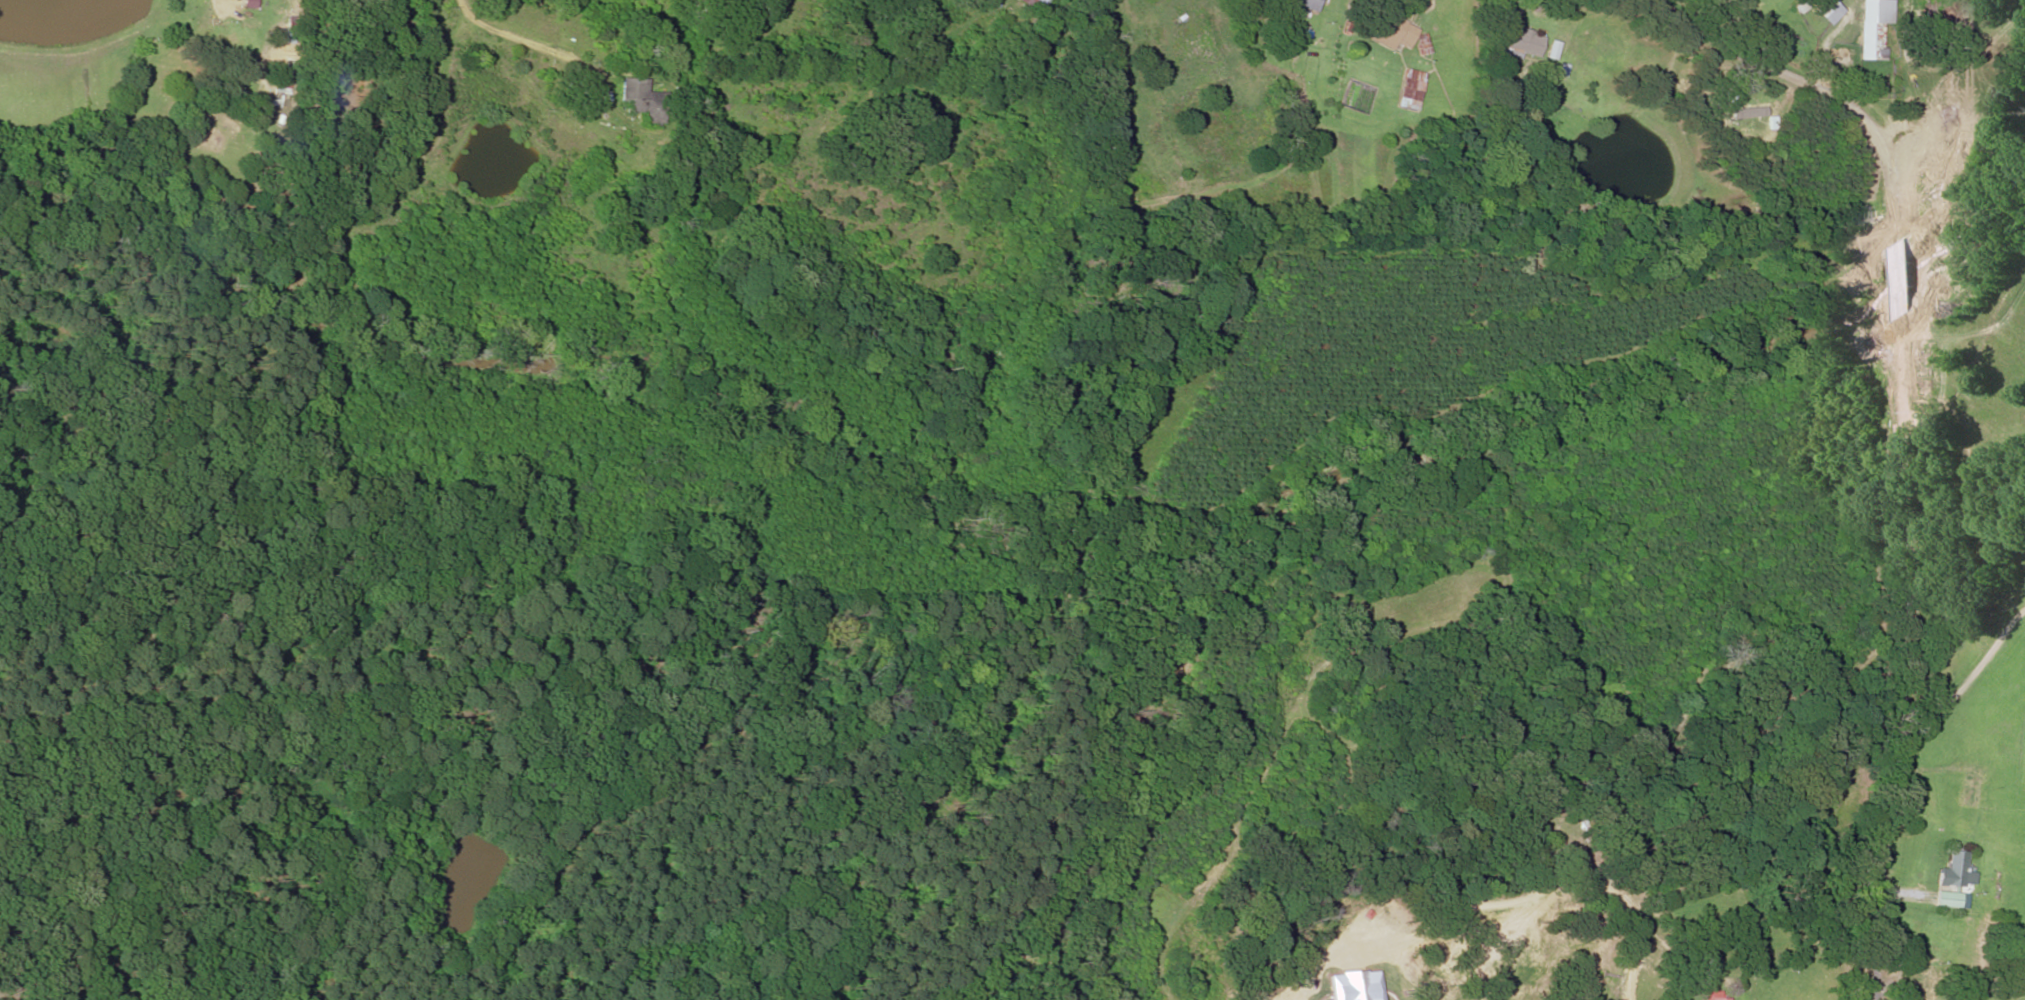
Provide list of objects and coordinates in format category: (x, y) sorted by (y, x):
building: (1033, 4)
building: (1304, 4)
building: (1829, 11)
building: (1393, 30)
building: (1872, 40)
building: (1516, 41)
building: (1411, 89)
building: (642, 99)
building: (1520, 115)
building: (1747, 119)
road: (1910, 435)
road: (1979, 652)
building: (1969, 791)
building: (1954, 871)
building: (1947, 899)
building: (1921, 958)
building: (1923, 986)

